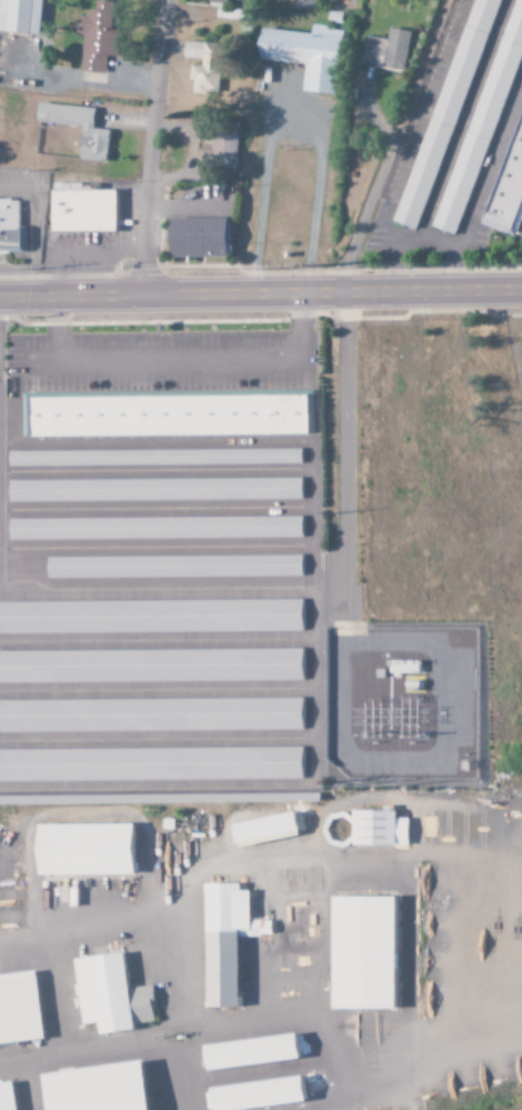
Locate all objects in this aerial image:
building: (301, 3)
building: (20, 17)
building: (97, 37)
building: (387, 51)
building: (304, 56)
building: (203, 67)
building: (91, 139)
road: (148, 147)
building: (219, 147)
road: (391, 147)
building: (508, 188)
building: (81, 212)
building: (10, 224)
building: (194, 238)
road: (261, 293)
building: (170, 414)
building: (158, 457)
building: (159, 489)
building: (159, 528)
building: (178, 566)
building: (153, 616)
building: (152, 666)
building: (152, 714)
building: (152, 763)
building: (382, 828)
building: (272, 829)
building: (93, 849)
building: (233, 941)
building: (371, 952)
building: (114, 994)
building: (22, 1011)
building: (259, 1051)
building: (107, 1088)
building: (265, 1094)
building: (10, 1097)

